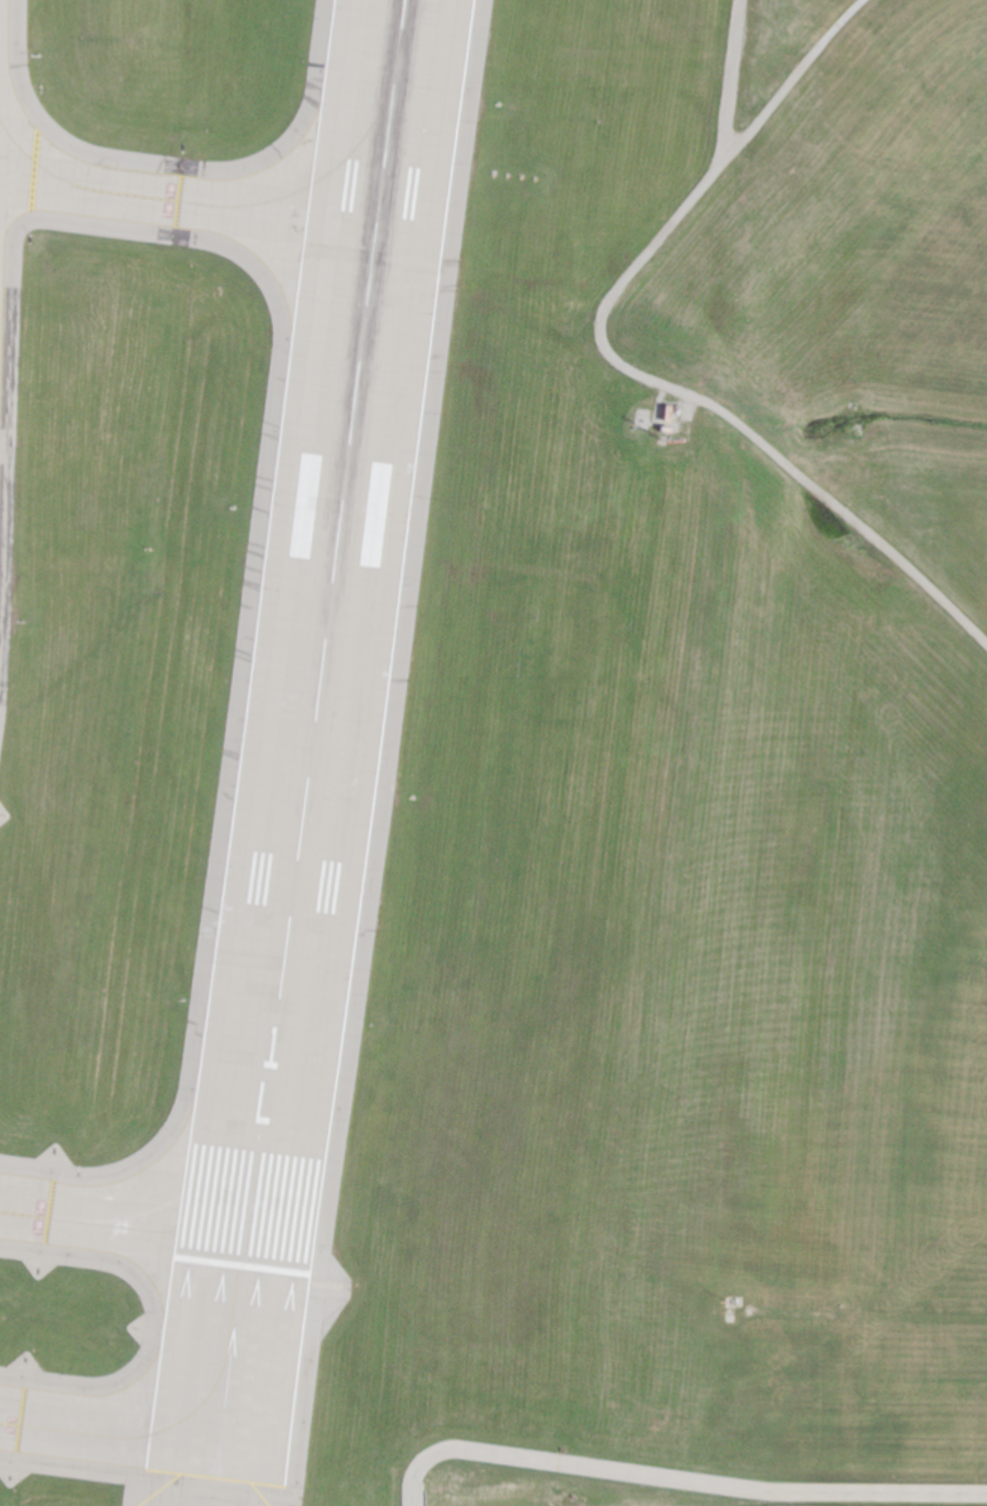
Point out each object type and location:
road: (730, 80)
road: (719, 172)
airport taxiway: (187, 199)
building: (659, 412)
building: (658, 428)
road: (794, 474)
airport runway: (323, 632)
airport: (493, 753)
airport taxiway: (123, 1225)
airport runway: (230, 1372)
airport taxiway: (110, 1435)
road: (677, 1478)

